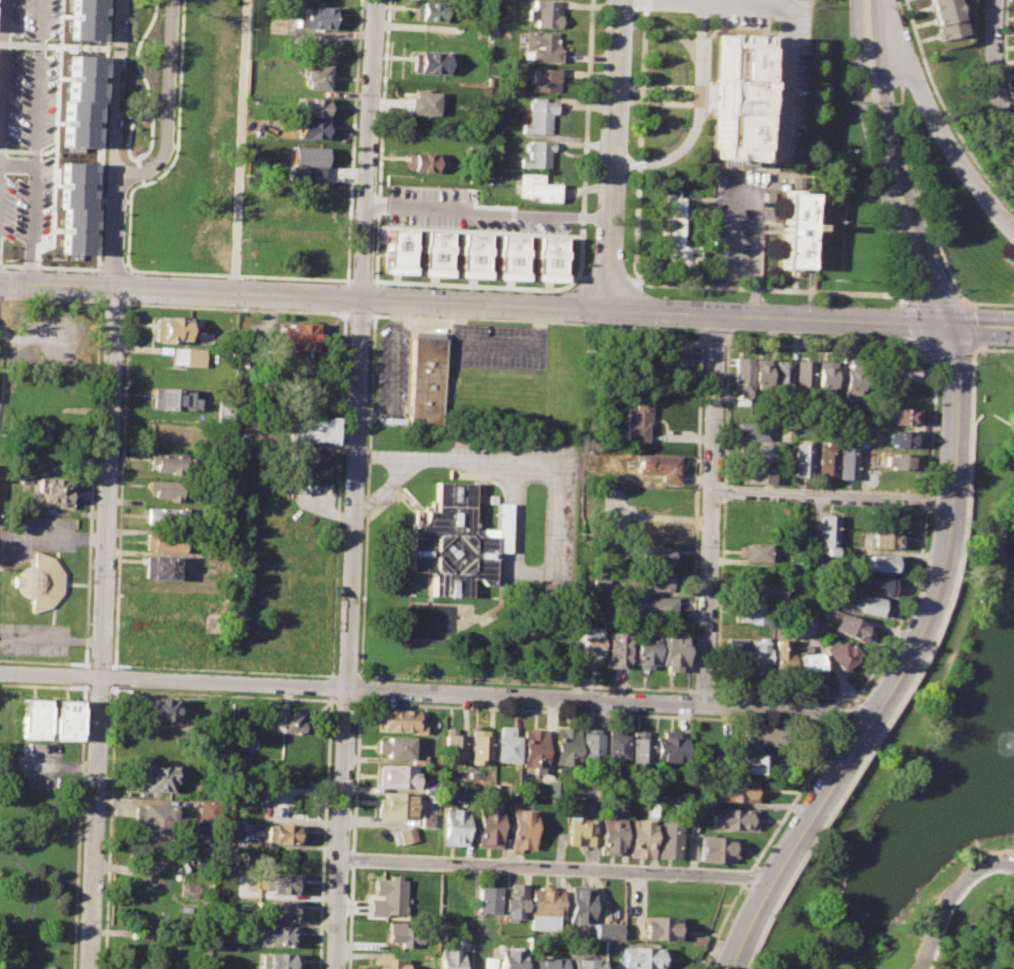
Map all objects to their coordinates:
street lamp: (898, 3)
road: (659, 4)
building: (426, 11)
building: (545, 13)
building: (944, 17)
building: (86, 20)
building: (314, 20)
road: (782, 41)
road: (1, 43)
building: (540, 47)
street lamp: (847, 59)
street lamp: (918, 61)
building: (427, 62)
building: (209, 64)
parking lot: (776, 69)
road: (995, 74)
building: (315, 78)
building: (544, 81)
road: (35, 82)
park: (137, 83)
building: (735, 93)
road: (110, 100)
building: (80, 101)
building: (420, 103)
road: (162, 109)
building: (313, 110)
road: (697, 113)
building: (538, 117)
road: (934, 123)
building: (312, 132)
street lamp: (953, 134)
road: (586, 137)
road: (234, 146)
building: (536, 154)
road: (615, 154)
street lamp: (863, 157)
building: (425, 161)
building: (304, 163)
road: (119, 171)
building: (537, 188)
street lamp: (998, 199)
building: (176, 200)
building: (75, 208)
road: (30, 210)
road: (487, 211)
parking lot: (738, 223)
road: (728, 229)
building: (675, 230)
building: (798, 231)
road: (758, 233)
road: (112, 244)
building: (396, 248)
building: (435, 251)
building: (472, 252)
building: (510, 254)
building: (549, 256)
street lamp: (893, 258)
road: (55, 268)
road: (117, 271)
road: (125, 271)
road: (128, 273)
road: (238, 276)
road: (360, 280)
road: (607, 280)
road: (481, 285)
road: (128, 288)
road: (768, 288)
street lamp: (954, 290)
road: (344, 295)
road: (756, 295)
road: (952, 302)
road: (961, 302)
street lamp: (895, 303)
road: (968, 303)
road: (507, 304)
street lamp: (988, 307)
road: (236, 308)
traffic signals: (942, 323)
building: (172, 330)
building: (300, 339)
building: (61, 340)
road: (715, 342)
road: (971, 345)
parking lot: (497, 346)
road: (821, 346)
road: (973, 347)
street lamp: (982, 347)
road: (497, 349)
street lamp: (1013, 352)
building: (189, 358)
street lamp: (920, 359)
street lamp: (968, 361)
building: (681, 362)
road: (927, 362)
building: (898, 372)
parking lot: (393, 373)
building: (762, 373)
road: (392, 374)
building: (783, 374)
building: (742, 376)
building: (805, 376)
building: (826, 376)
building: (853, 380)
building: (427, 382)
building: (294, 390)
road: (931, 392)
building: (172, 400)
building: (901, 415)
building: (636, 423)
building: (310, 431)
building: (752, 432)
building: (900, 439)
street lamp: (967, 442)
road: (929, 451)
building: (756, 453)
road: (434, 459)
building: (801, 459)
building: (826, 460)
building: (846, 461)
building: (899, 461)
building: (170, 464)
building: (307, 466)
building: (659, 466)
building: (754, 475)
road: (354, 484)
road: (384, 486)
road: (753, 487)
building: (167, 491)
road: (723, 491)
park: (987, 491)
building: (54, 493)
road: (337, 493)
road: (830, 496)
building: (659, 501)
road: (926, 501)
road: (948, 505)
road: (710, 510)
road: (695, 516)
building: (168, 517)
street lamp: (963, 523)
building: (656, 531)
building: (827, 534)
road: (48, 537)
parking lot: (32, 539)
road: (96, 539)
building: (881, 539)
building: (456, 543)
building: (165, 544)
building: (755, 551)
building: (655, 556)
building: (881, 562)
street lamp: (976, 563)
building: (160, 569)
road: (550, 574)
building: (657, 580)
building: (41, 583)
building: (873, 583)
building: (598, 585)
road: (116, 592)
building: (759, 593)
road: (719, 594)
street lamp: (949, 594)
building: (868, 605)
building: (654, 608)
road: (902, 610)
building: (752, 615)
building: (799, 619)
building: (847, 625)
road: (102, 628)
street lamp: (950, 640)
parking lot: (34, 641)
building: (589, 644)
building: (643, 648)
building: (615, 649)
building: (671, 652)
building: (734, 652)
building: (757, 654)
building: (840, 655)
building: (780, 657)
road: (923, 659)
street lamp: (921, 660)
building: (808, 664)
road: (344, 675)
road: (331, 677)
road: (522, 683)
road: (330, 688)
road: (85, 690)
road: (701, 691)
road: (436, 692)
road: (781, 695)
street lamp: (848, 701)
building: (160, 709)
road: (847, 711)
building: (29, 717)
building: (61, 718)
building: (401, 721)
street lamp: (885, 721)
building: (289, 722)
building: (761, 736)
building: (564, 744)
building: (506, 745)
building: (479, 746)
building: (589, 746)
building: (613, 746)
building: (395, 747)
building: (668, 747)
building: (453, 748)
building: (638, 749)
building: (534, 750)
building: (749, 764)
building: (396, 775)
building: (154, 778)
street lamp: (846, 782)
building: (430, 787)
building: (553, 789)
building: (731, 790)
road: (792, 794)
street lamp: (860, 794)
building: (397, 805)
building: (210, 813)
building: (730, 819)
building: (427, 820)
building: (157, 821)
building: (455, 826)
building: (488, 827)
building: (521, 828)
building: (226, 830)
building: (581, 832)
building: (283, 833)
road: (324, 833)
building: (610, 834)
building: (407, 835)
building: (639, 838)
building: (668, 840)
street lamp: (809, 840)
building: (714, 849)
road: (154, 867)
road: (554, 867)
street lamp: (818, 868)
street lamp: (956, 874)
road: (743, 876)
building: (284, 883)
street lamp: (736, 884)
building: (387, 895)
road: (950, 898)
building: (486, 900)
building: (513, 901)
street lamp: (772, 902)
building: (579, 904)
building: (544, 908)
building: (283, 910)
road: (720, 924)
street lamp: (796, 925)
building: (659, 928)
building: (607, 930)
building: (281, 935)
building: (403, 936)
street lamp: (921, 937)
building: (463, 940)
building: (510, 958)
building: (642, 958)
building: (450, 959)
building: (279, 960)
building: (388, 963)
building: (489, 963)
building: (548, 963)
building: (585, 964)
street lamp: (742, 967)

